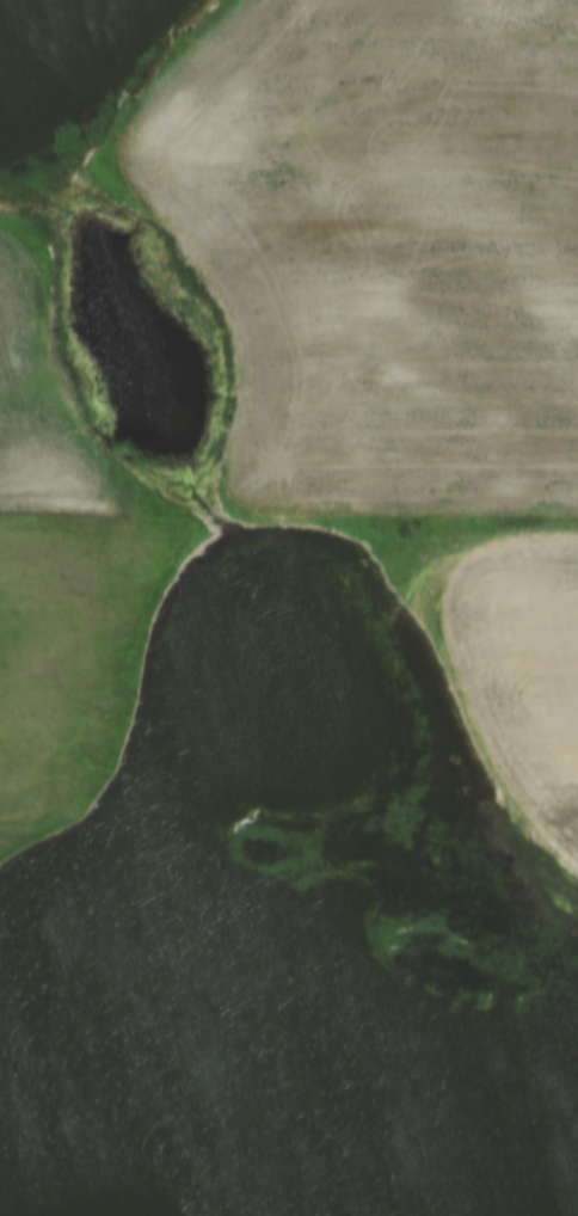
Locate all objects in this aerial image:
road: (130, 97)

